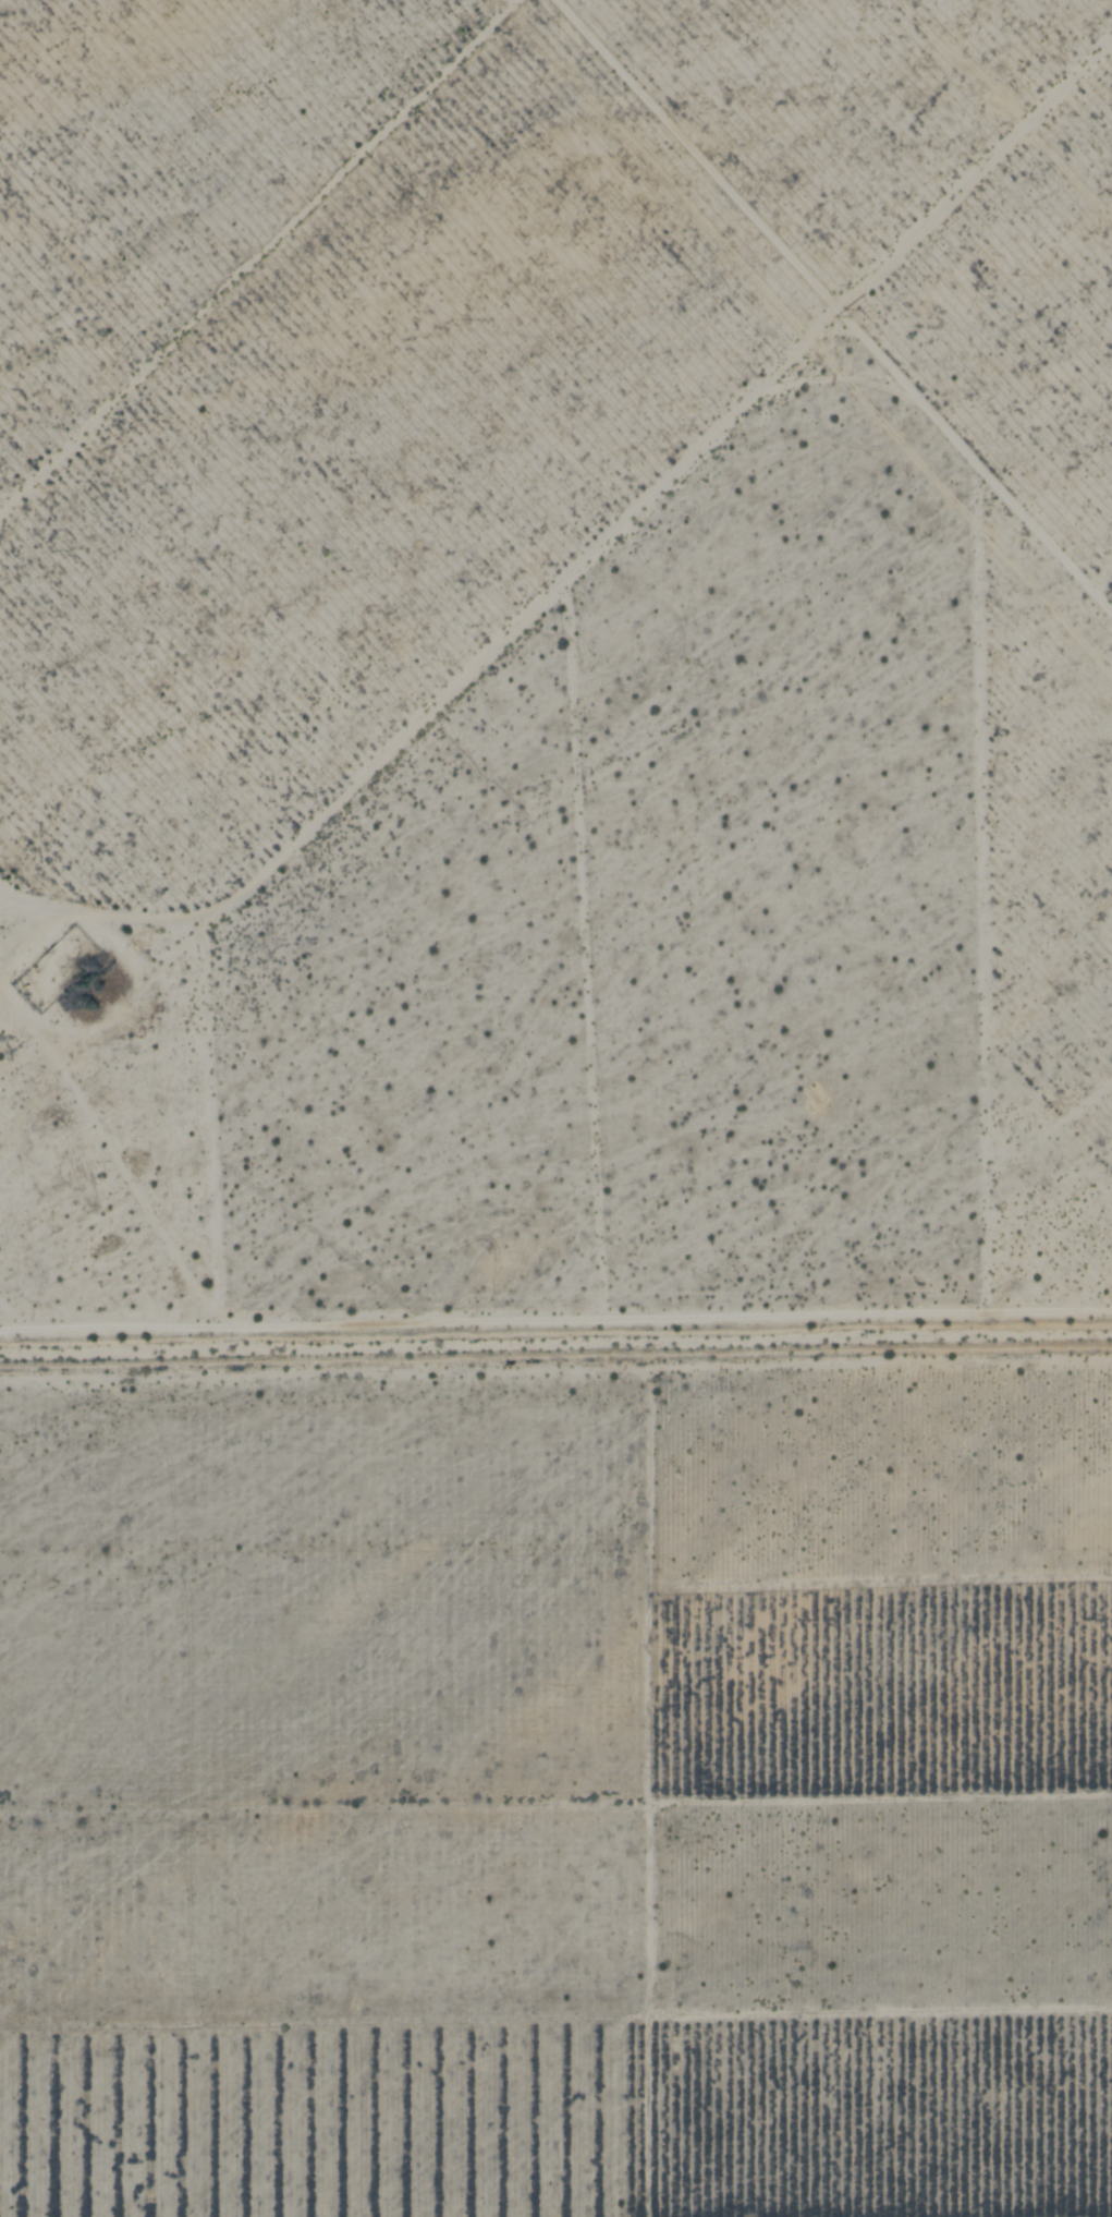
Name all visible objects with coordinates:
power tower: (855, 308)

